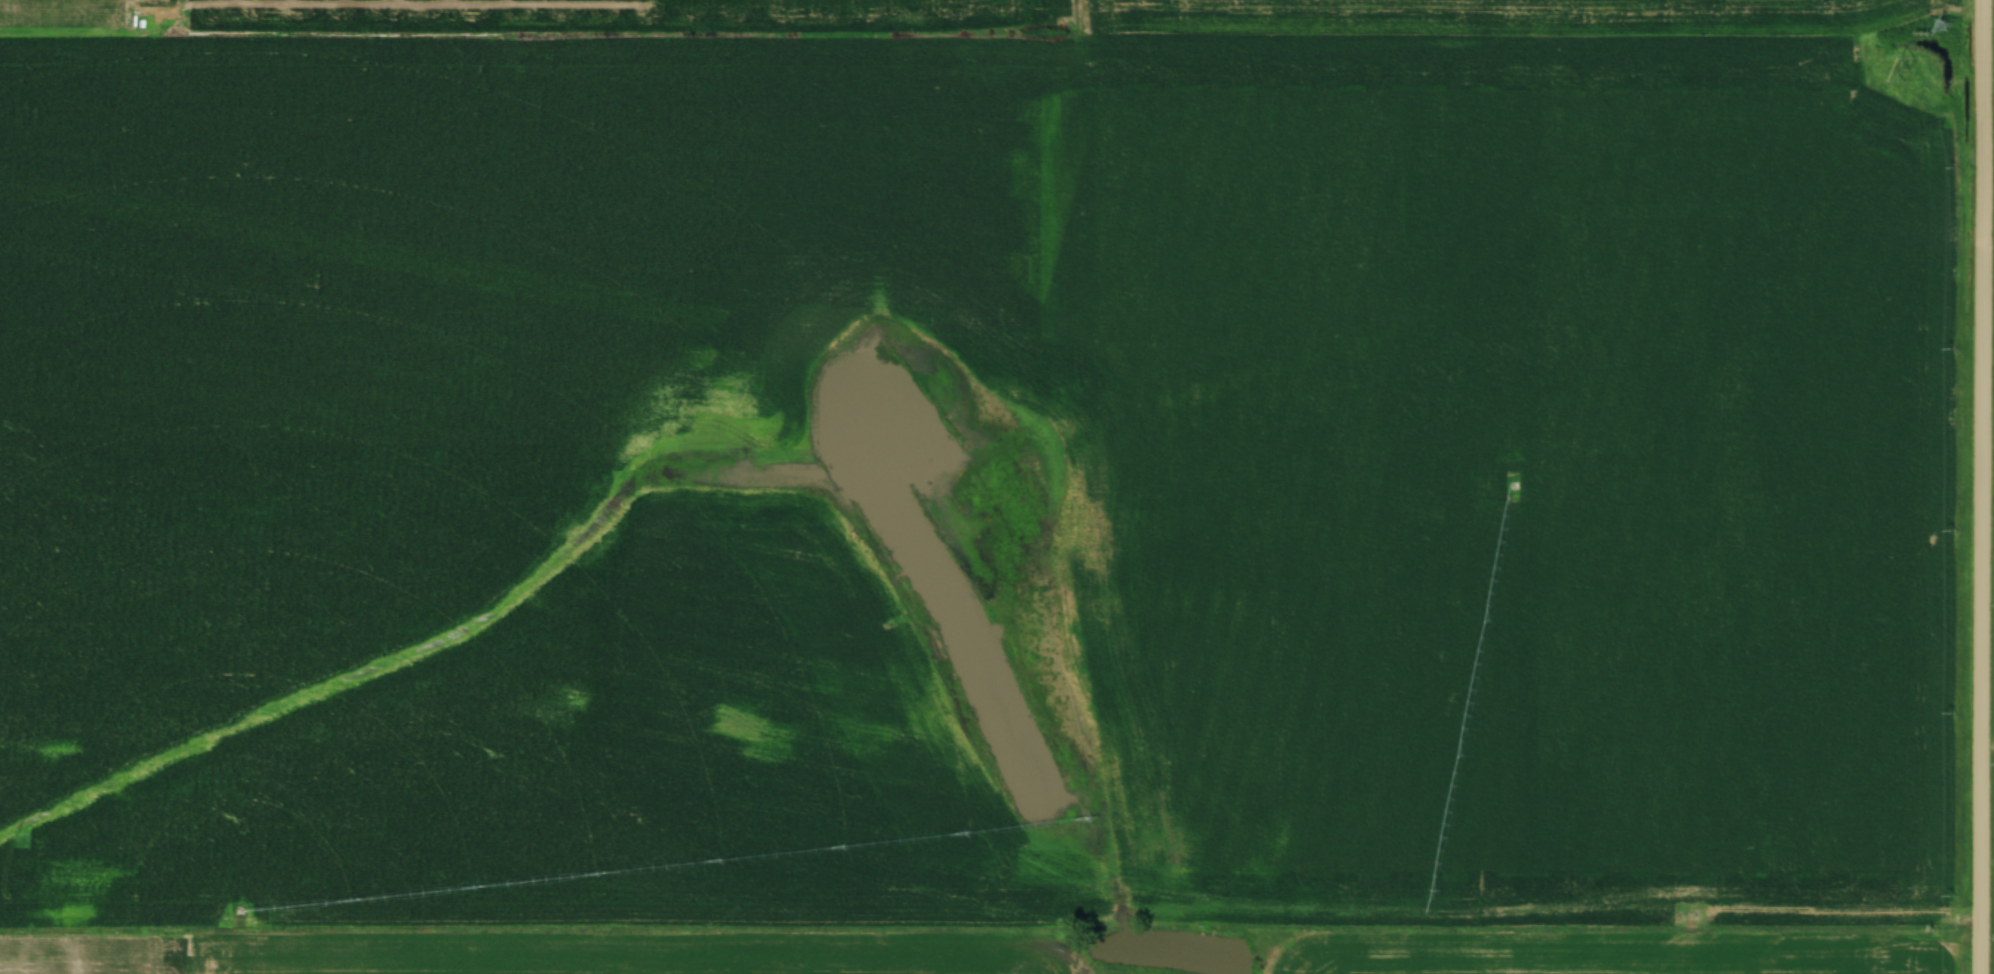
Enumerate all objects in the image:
power tower: (1948, 26)
power tower: (1908, 72)
road: (1981, 487)

